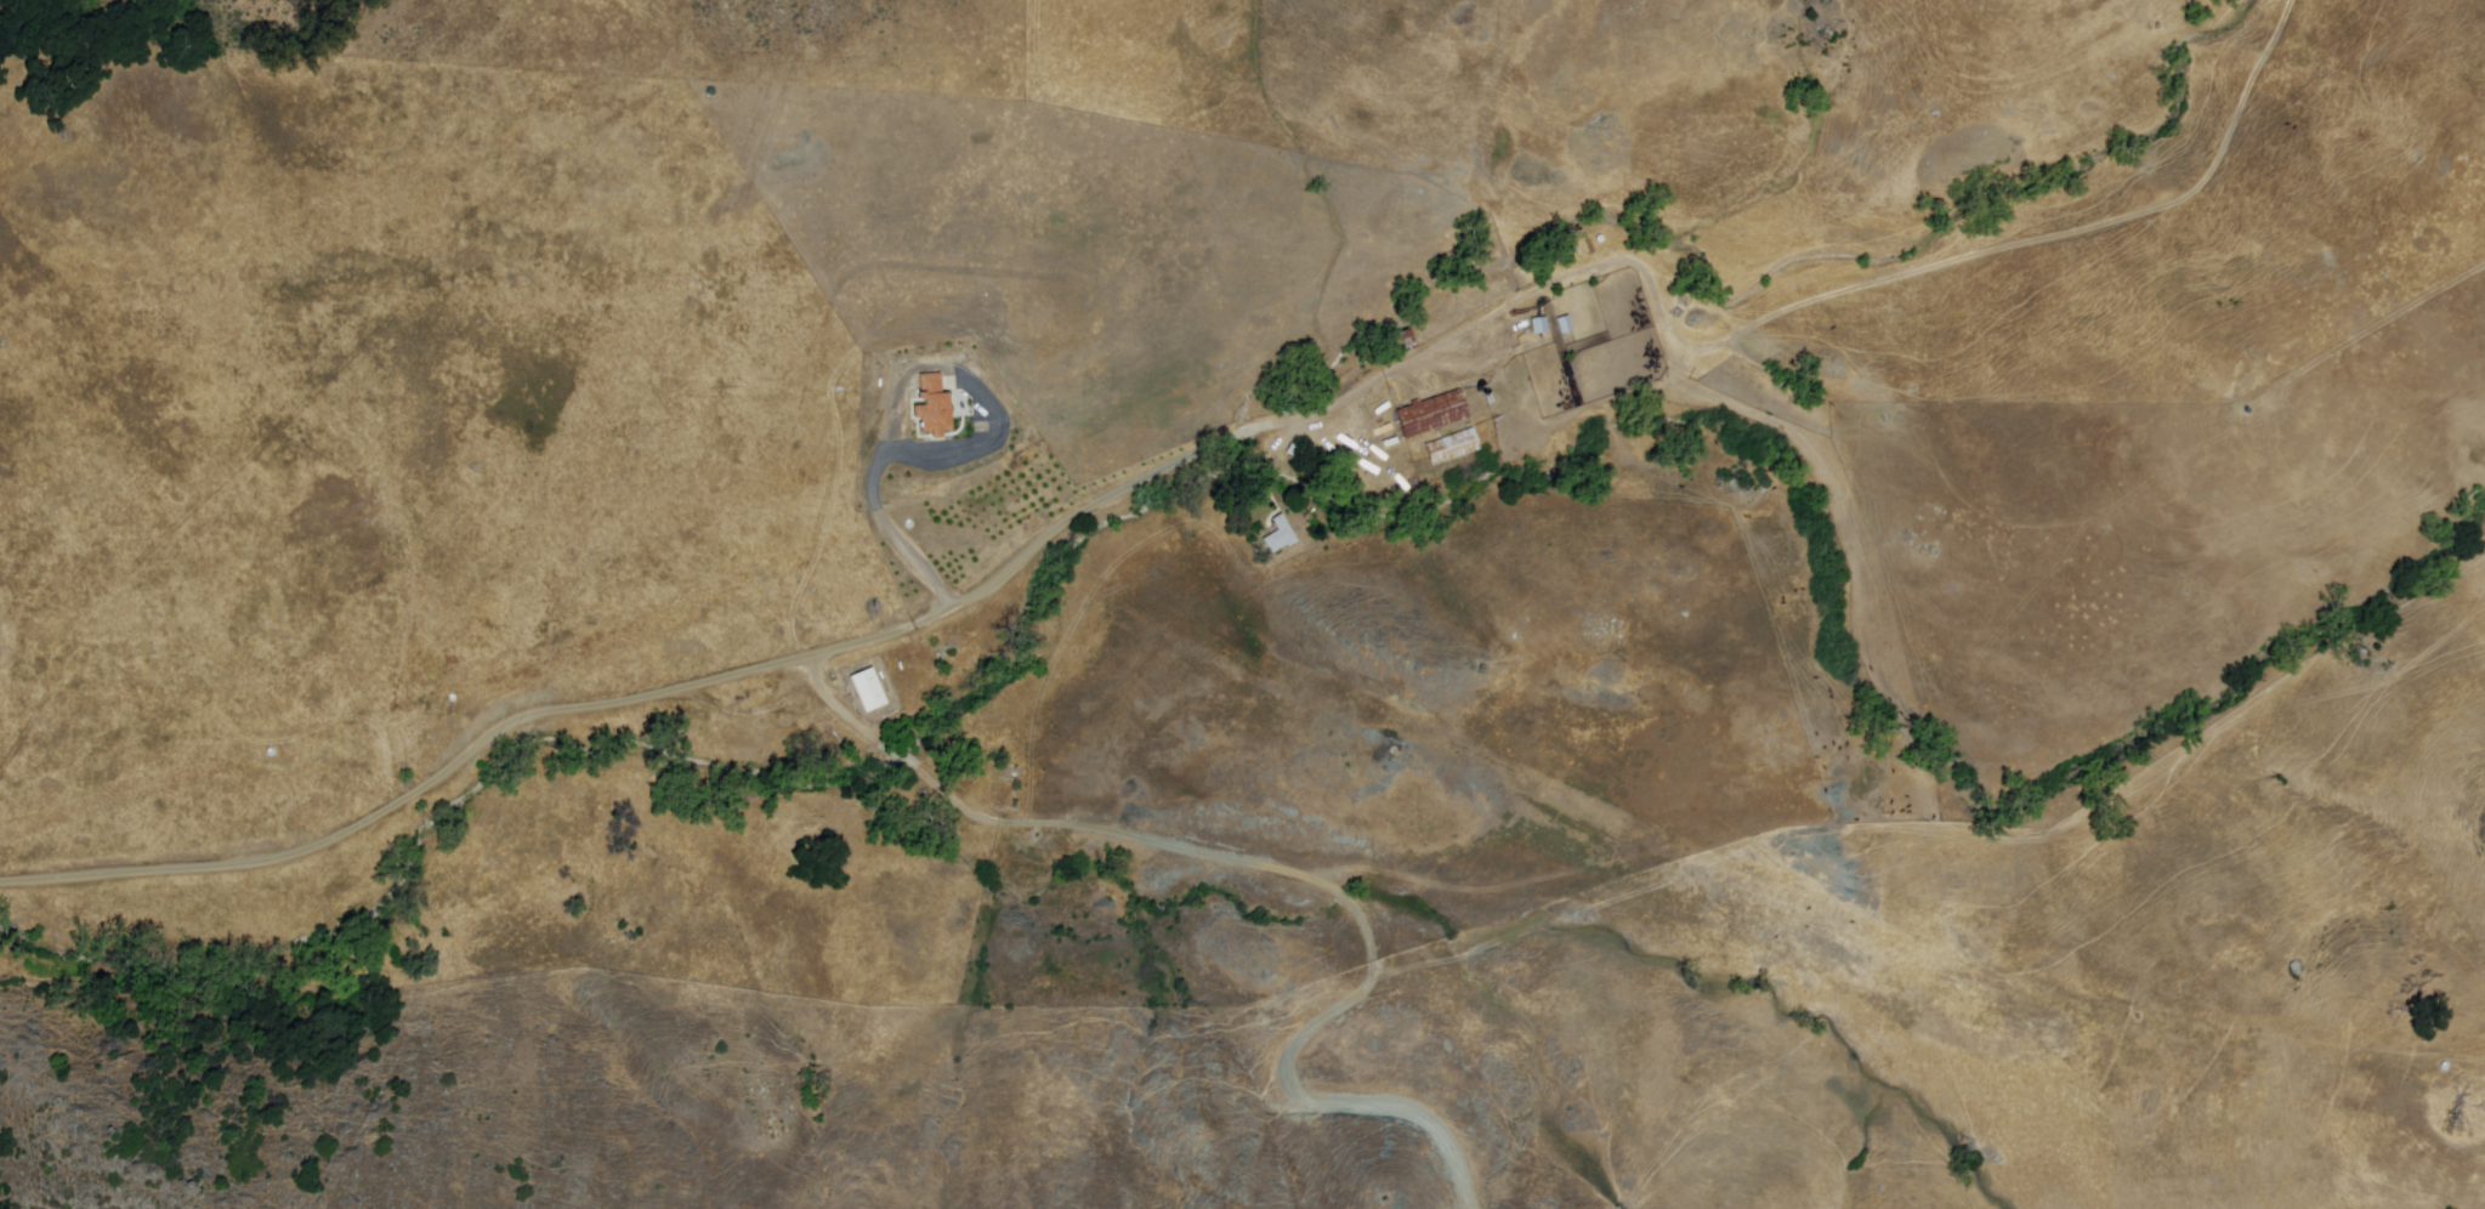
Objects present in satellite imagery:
road: (1798, 307)
road: (2384, 319)
building: (1541, 327)
building: (1566, 327)
storage tank: (1483, 395)
building: (935, 408)
building: (1434, 415)
building: (1454, 449)
road: (958, 458)
building: (1282, 537)
road: (1028, 555)
building: (869, 692)
road: (904, 754)
building: (998, 788)
road: (1953, 834)
road: (1485, 886)

